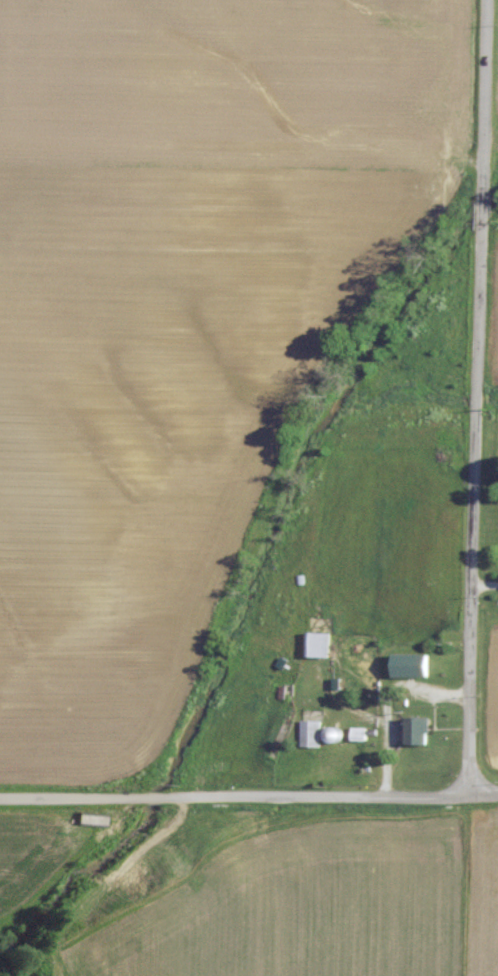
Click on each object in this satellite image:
road: (480, 399)
building: (321, 645)
building: (414, 665)
building: (420, 731)
building: (312, 734)
road: (249, 802)
crop: (486, 893)

